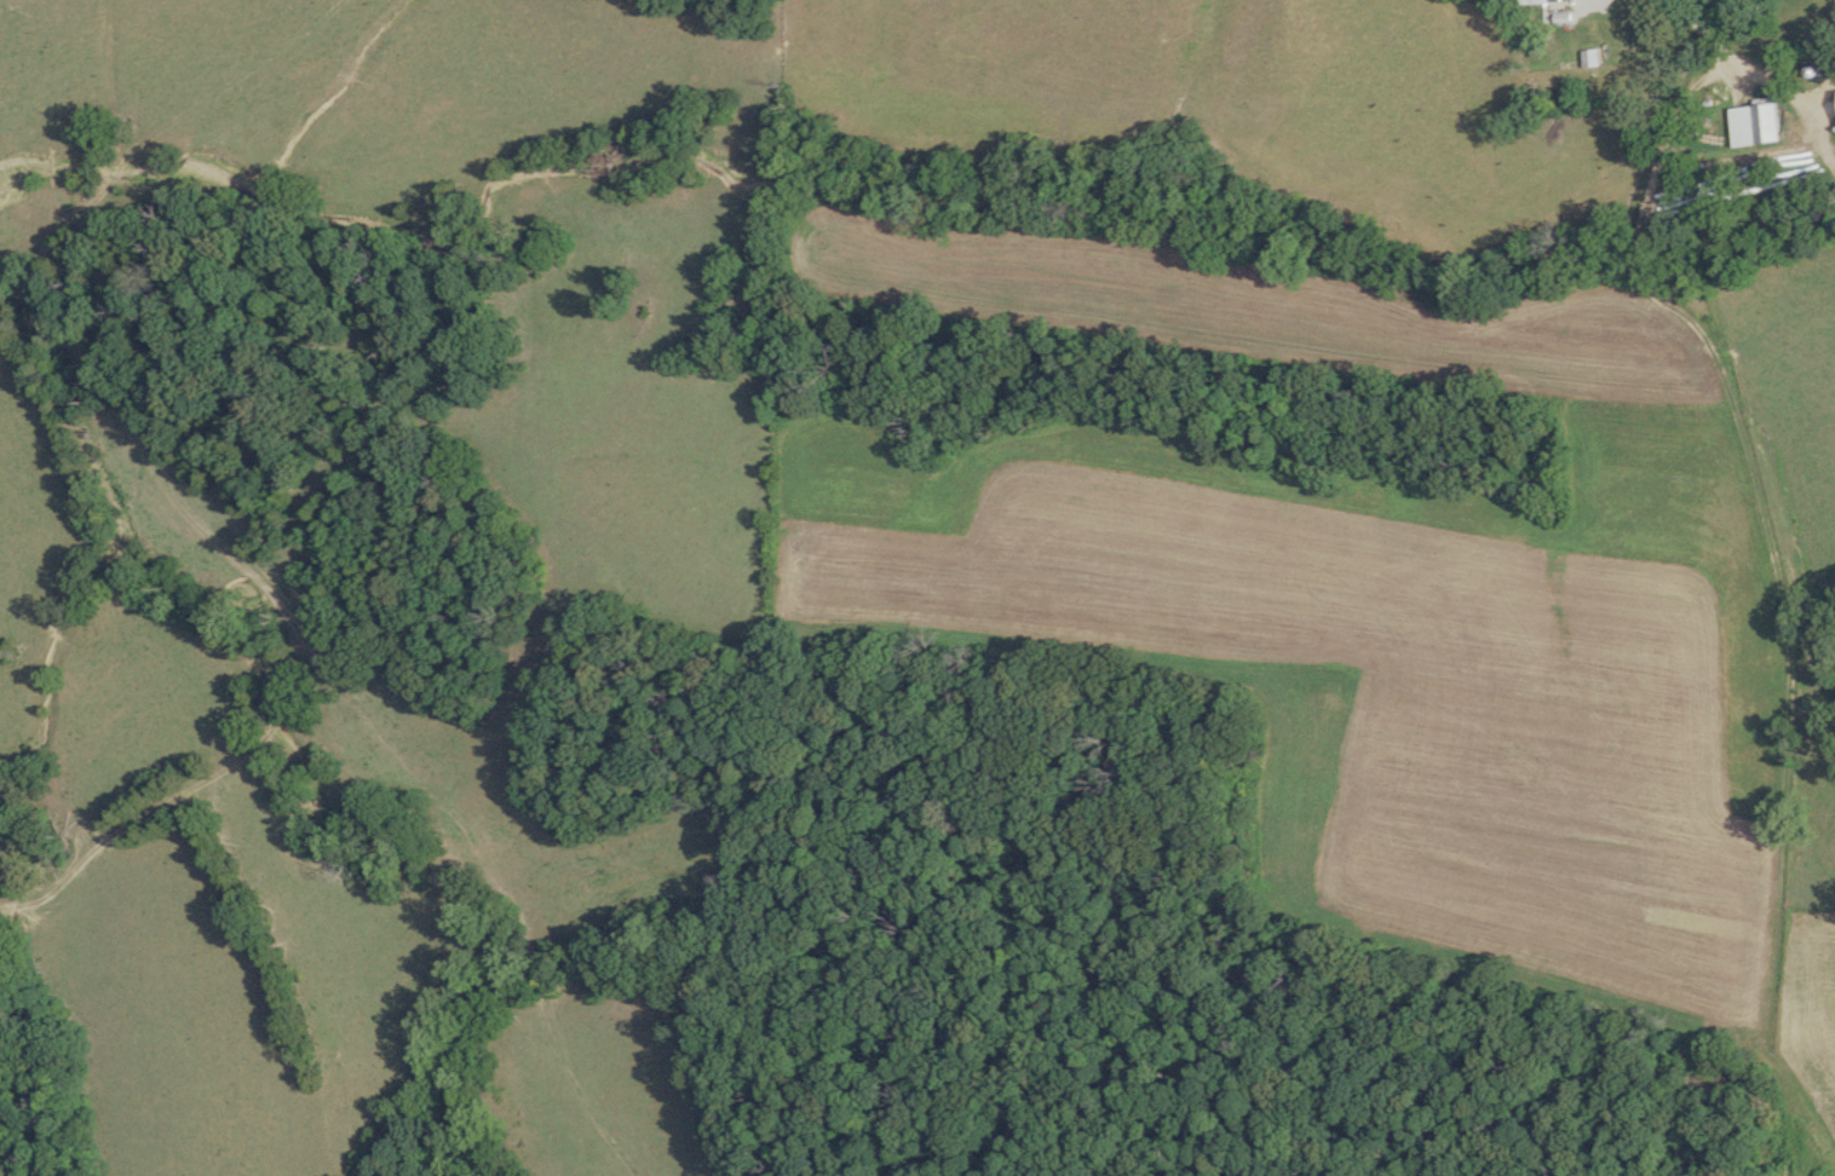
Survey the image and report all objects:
building: (1531, 1)
building: (1588, 57)
road: (1733, 59)
building: (1751, 123)

